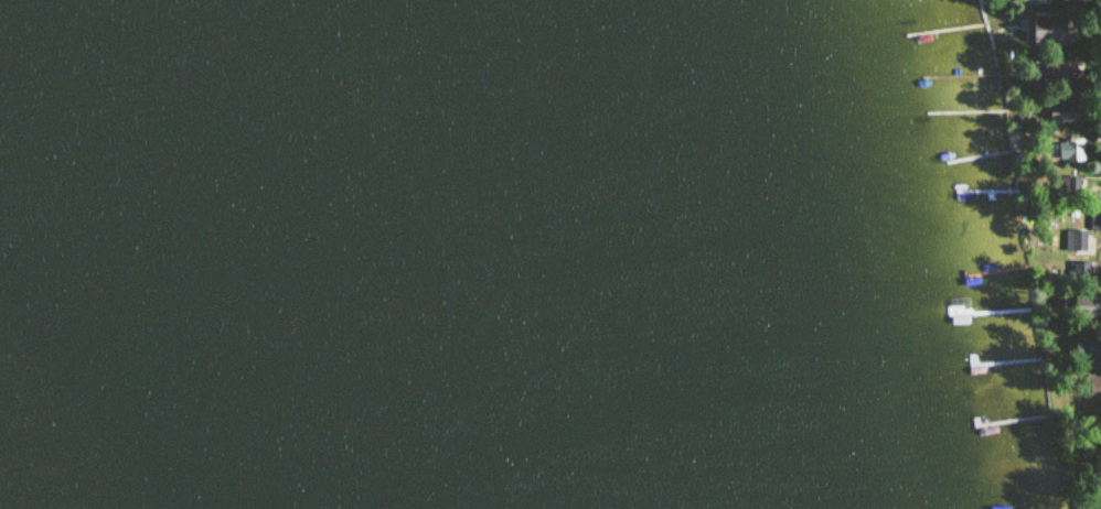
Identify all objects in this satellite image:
building: (1034, 1)
building: (1054, 31)
building: (1055, 78)
building: (1063, 113)
building: (1072, 152)
building: (1071, 187)
building: (1097, 221)
building: (1075, 237)
building: (1090, 305)
building: (1088, 351)
building: (1093, 388)

